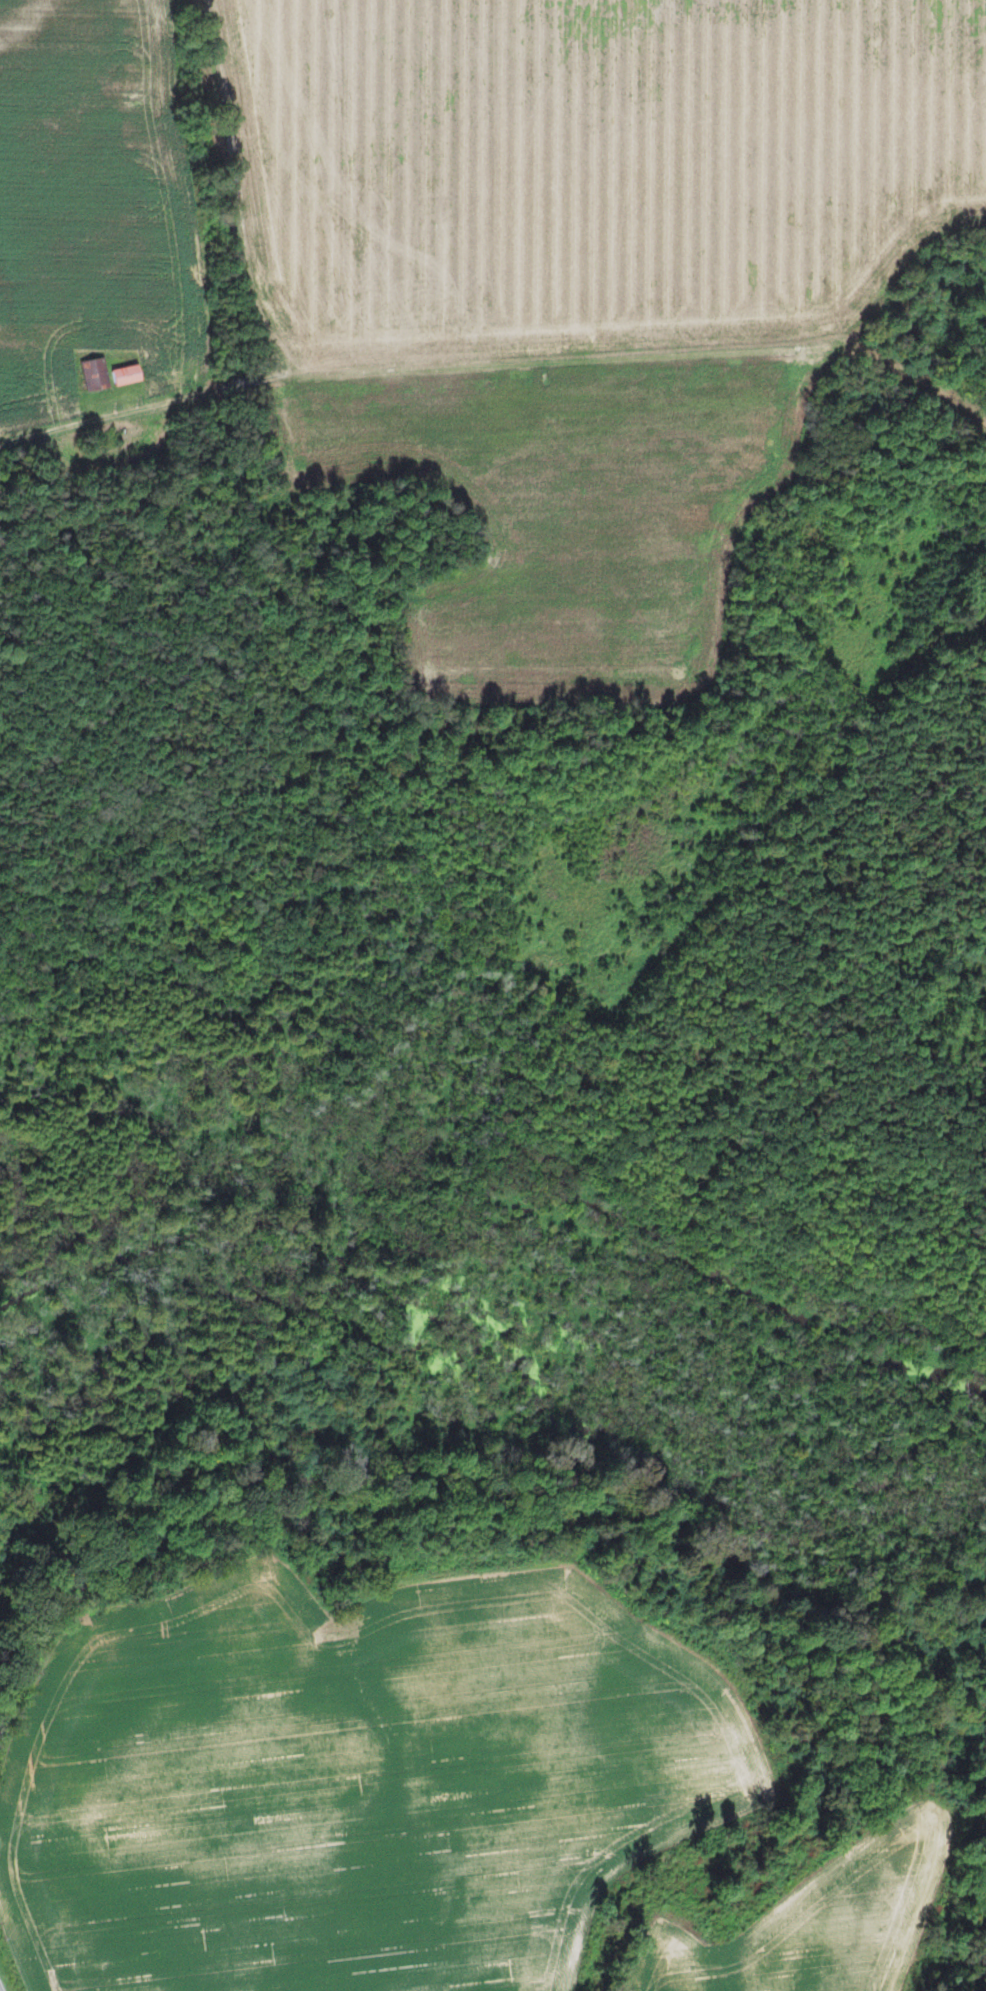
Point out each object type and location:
building: (90, 373)
building: (120, 374)

